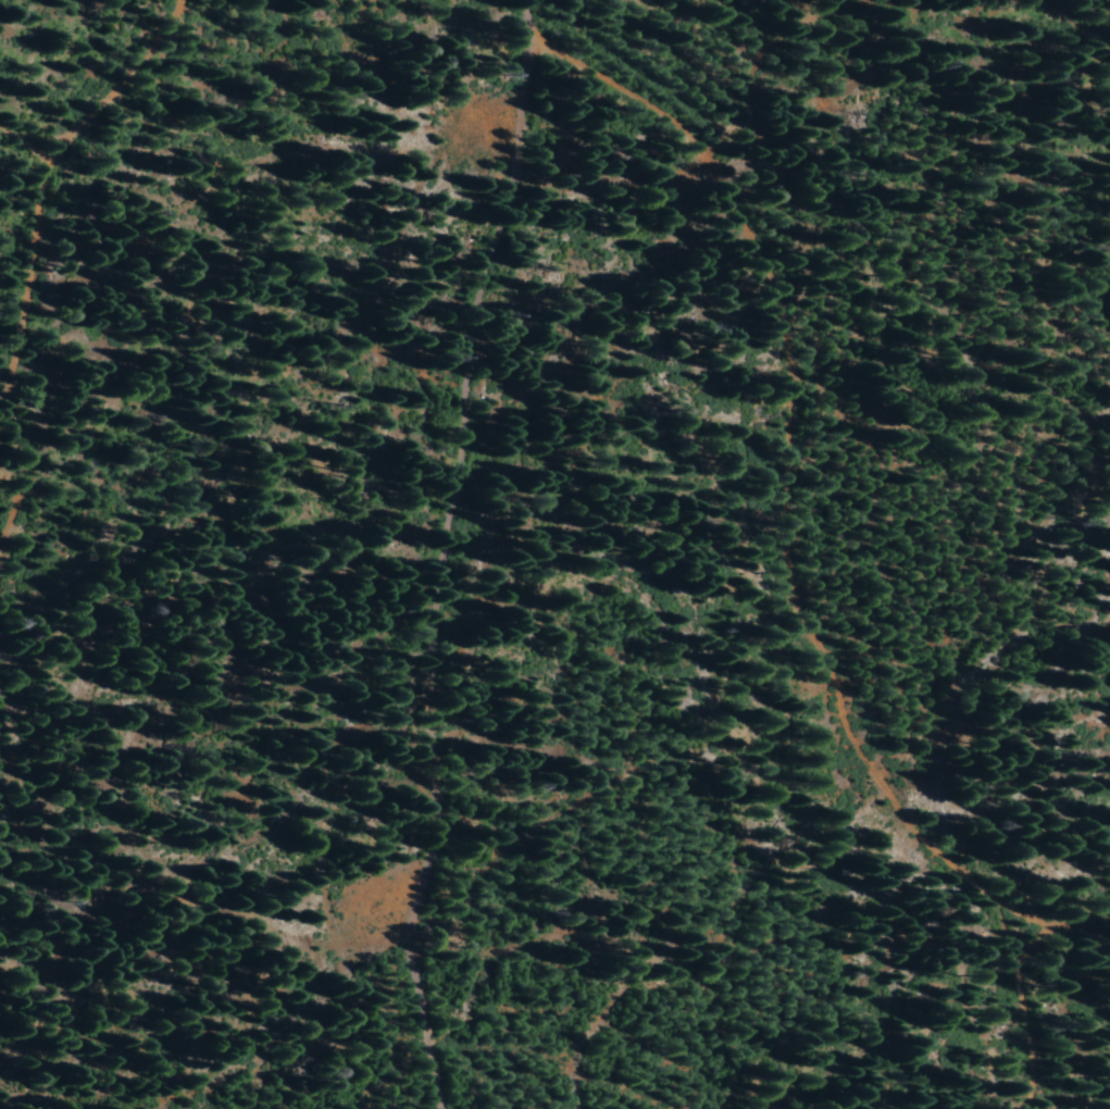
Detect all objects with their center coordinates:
road: (123, 117)
road: (38, 438)
road: (810, 466)
road: (462, 568)
road: (1069, 940)
road: (1026, 1027)

